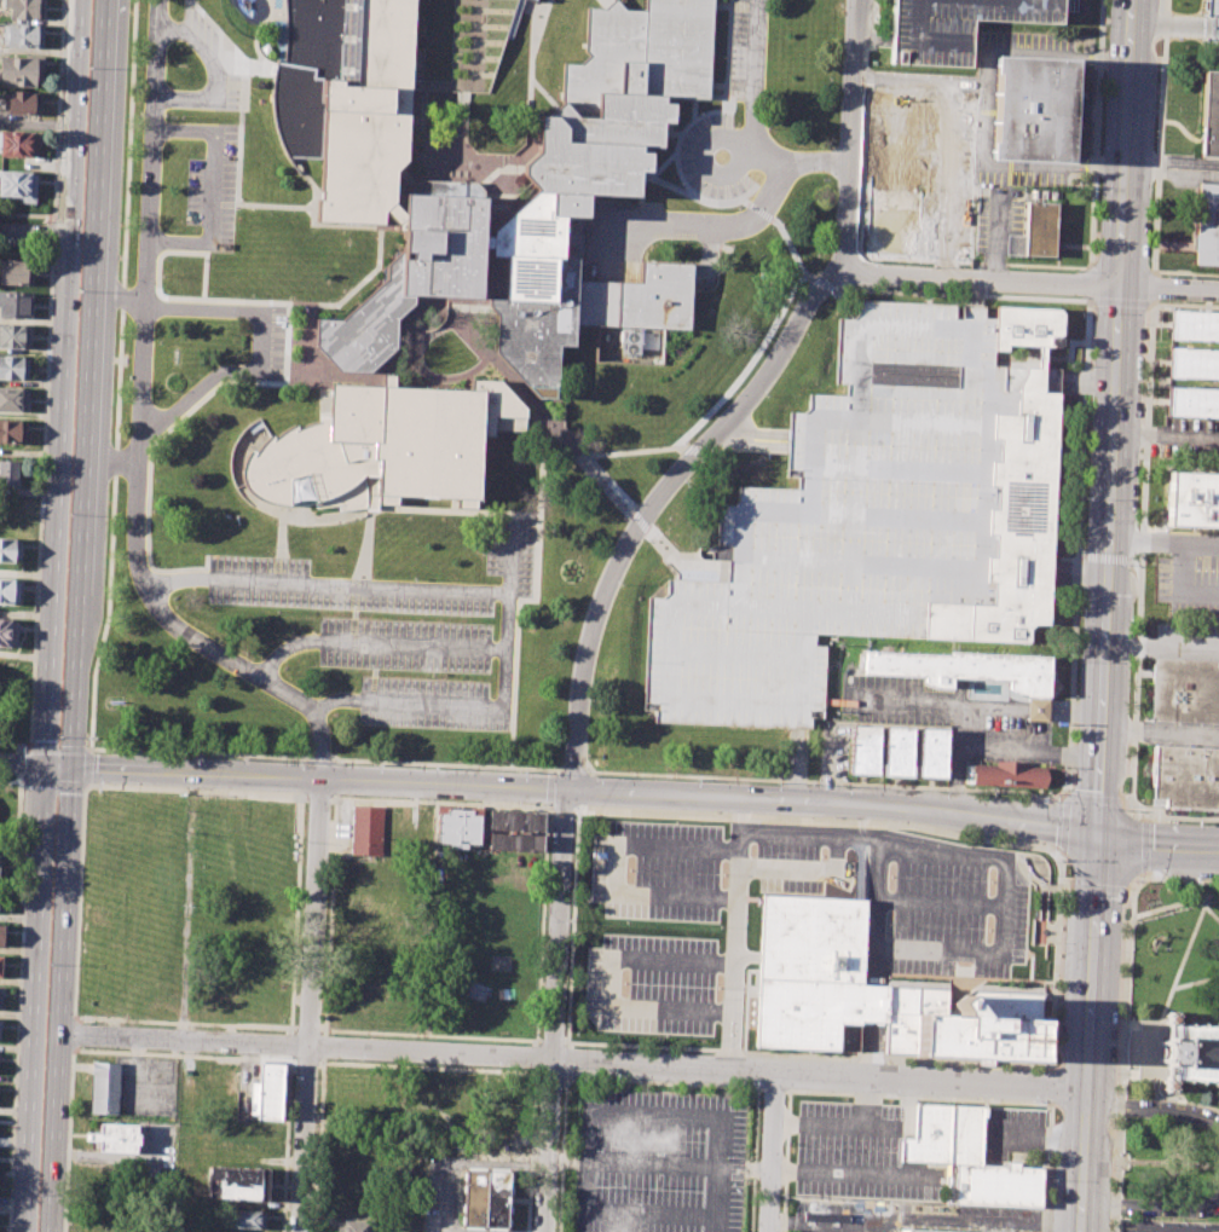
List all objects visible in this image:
street lamp: (553, 0)
road: (601, 4)
road: (531, 7)
building: (27, 8)
building: (955, 25)
parking garage: (955, 25)
building: (1213, 29)
parking garage: (1213, 29)
road: (532, 30)
building: (24, 36)
building: (473, 45)
street lamp: (537, 48)
parking lot: (746, 51)
road: (1040, 51)
building: (641, 52)
road: (530, 57)
parking lot: (210, 62)
street lamp: (87, 66)
building: (21, 71)
road: (216, 74)
road: (259, 74)
road: (718, 85)
road: (753, 93)
road: (717, 96)
building: (21, 103)
building: (346, 103)
road: (693, 108)
building: (1030, 108)
road: (57, 110)
street lamp: (862, 111)
building: (1209, 114)
street lamp: (181, 115)
road: (527, 120)
road: (688, 123)
road: (981, 131)
road: (239, 133)
road: (851, 133)
road: (1094, 133)
building: (18, 143)
building: (599, 145)
parking lot: (712, 157)
road: (1172, 160)
road: (703, 163)
road: (662, 164)
road: (1157, 168)
parking lot: (918, 173)
road: (1172, 173)
building: (919, 174)
road: (305, 179)
street lamp: (181, 184)
street lamp: (678, 184)
building: (17, 185)
road: (670, 186)
parking lot: (213, 187)
road: (216, 187)
road: (743, 201)
road: (758, 212)
road: (25, 213)
building: (1207, 224)
road: (730, 226)
building: (16, 231)
street lamp: (856, 231)
building: (1036, 232)
road: (34, 233)
road: (51, 233)
parking lot: (617, 237)
road: (859, 239)
road: (790, 249)
road: (25, 253)
road: (860, 256)
road: (707, 259)
street lamp: (873, 261)
street lamp: (976, 267)
road: (850, 271)
street lamp: (1075, 271)
building: (15, 272)
building: (411, 272)
road: (156, 273)
street lamp: (162, 273)
road: (977, 280)
road: (1088, 282)
road: (822, 284)
road: (1151, 287)
road: (844, 288)
road: (1169, 288)
street lamp: (77, 290)
street lamp: (210, 294)
road: (959, 294)
building: (574, 295)
street lamp: (252, 296)
street lamp: (831, 296)
street lamp: (291, 297)
road: (117, 299)
road: (1087, 299)
road: (1119, 302)
road: (295, 303)
building: (15, 305)
road: (1184, 305)
flagpole: (302, 310)
road: (229, 311)
street lamp: (290, 319)
road: (416, 322)
building: (1194, 325)
road: (462, 330)
building: (13, 336)
road: (422, 337)
street lamp: (158, 341)
parking lot: (266, 341)
street lamp: (289, 346)
road: (307, 346)
road: (417, 358)
building: (1192, 363)
street lamp: (288, 364)
building: (13, 368)
road: (117, 375)
road: (302, 378)
building: (1051, 380)
street lamp: (288, 382)
road: (62, 383)
road: (86, 383)
street lamp: (302, 383)
street lamp: (317, 383)
street lamp: (156, 389)
street lamp: (265, 389)
road: (192, 393)
street lamp: (767, 395)
building: (13, 399)
building: (1192, 401)
road: (538, 413)
road: (148, 415)
road: (1113, 417)
road: (166, 429)
building: (12, 432)
road: (140, 433)
building: (422, 433)
road: (751, 435)
parking lot: (1191, 435)
road: (1165, 439)
road: (698, 449)
road: (749, 449)
road: (630, 451)
street lamp: (154, 459)
road: (111, 462)
building: (296, 464)
road: (539, 465)
street lamp: (573, 465)
street lamp: (536, 467)
building: (7, 473)
street lamp: (686, 484)
street lamp: (596, 491)
road: (295, 493)
road: (39, 499)
building: (1016, 499)
building: (1192, 499)
road: (654, 504)
street lamp: (535, 507)
street lamp: (151, 509)
street lamp: (68, 514)
street lamp: (619, 516)
street lamp: (275, 524)
building: (844, 524)
parking garage: (844, 524)
street lamp: (374, 527)
road: (1163, 538)
street lamp: (272, 545)
road: (1078, 548)
building: (8, 550)
street lamp: (372, 550)
road: (510, 553)
road: (1142, 554)
road: (1081, 556)
road: (1105, 556)
road: (1134, 559)
parking lot: (1186, 568)
street lamp: (371, 573)
road: (357, 574)
street lamp: (414, 577)
road: (1184, 582)
street lamp: (620, 585)
building: (10, 590)
road: (480, 590)
street lamp: (175, 607)
street lamp: (277, 612)
parking lot: (405, 630)
building: (7, 632)
building: (1039, 637)
parking lot: (1185, 640)
road: (374, 642)
road: (1160, 647)
street lamp: (245, 654)
building: (975, 672)
street lamp: (432, 675)
road: (514, 677)
building: (1184, 689)
street lamp: (591, 700)
road: (986, 708)
parking lot: (1183, 734)
road: (1157, 735)
street lamp: (58, 738)
street lamp: (96, 738)
road: (15, 744)
street lamp: (22, 747)
road: (57, 747)
road: (88, 748)
building: (863, 748)
building: (896, 751)
road: (999, 751)
building: (931, 752)
street lamp: (197, 756)
street lamp: (301, 760)
road: (337, 760)
road: (22, 763)
street lamp: (379, 764)
road: (22, 765)
traffic signals: (45, 767)
road: (57, 767)
traffic signals: (70, 768)
road: (550, 770)
street lamp: (524, 771)
street lamp: (595, 774)
building: (1009, 774)
building: (1186, 776)
road: (318, 777)
road: (336, 777)
road: (19, 779)
street lamp: (698, 779)
road: (790, 779)
road: (10, 781)
road: (53, 782)
street lamp: (778, 782)
street lamp: (847, 786)
road: (549, 787)
street lamp: (17, 788)
street lamp: (98, 789)
road: (195, 791)
street lamp: (944, 791)
road: (317, 797)
street lamp: (1051, 800)
road: (1091, 800)
road: (439, 802)
road: (830, 803)
street lamp: (1127, 805)
road: (561, 806)
road: (1166, 816)
road: (1145, 817)
road: (819, 819)
building: (515, 821)
street lamp: (675, 821)
street lamp: (1198, 821)
street lamp: (573, 822)
road: (1064, 825)
building: (457, 826)
building: (365, 829)
traffic signals: (1092, 835)
building: (514, 841)
street lamp: (305, 844)
road: (915, 844)
road: (1144, 844)
road: (1154, 850)
street lamp: (821, 854)
flagpole: (1019, 861)
building: (1, 864)
parking lot: (706, 866)
road: (617, 867)
street lamp: (630, 869)
street lamp: (722, 873)
flagpole: (1027, 873)
street lamp: (890, 875)
road: (1180, 879)
street lamp: (1195, 879)
street lamp: (992, 880)
street lamp: (1134, 880)
flagpole: (1039, 883)
road: (1065, 884)
road: (1097, 887)
road: (1128, 891)
road: (1134, 891)
building: (1, 896)
road: (186, 906)
parking lot: (941, 907)
road: (329, 913)
road: (1211, 913)
road: (1120, 919)
street lamp: (625, 921)
road: (541, 922)
street lamp: (571, 922)
street lamp: (888, 924)
building: (376, 925)
street lamp: (720, 926)
street lamp: (988, 929)
building: (1, 933)
flagpole: (1162, 947)
street lamp: (324, 959)
road: (1056, 961)
street lamp: (48, 964)
building: (0, 965)
road: (606, 979)
road: (1196, 981)
street lamp: (623, 982)
parking lot: (651, 983)
road: (1172, 987)
street lamp: (718, 988)
building: (0, 993)
building: (871, 993)
road: (34, 999)
road: (60, 999)
street lamp: (567, 1000)
road: (17, 1003)
road: (308, 1005)
road: (554, 1010)
road: (74, 1012)
road: (1140, 1020)
road: (1125, 1024)
road: (1134, 1025)
road: (306, 1028)
road: (1121, 1028)
road: (429, 1034)
street lamp: (665, 1034)
road: (1084, 1034)
road: (550, 1040)
road: (323, 1046)
street lamp: (81, 1047)
road: (1134, 1048)
road: (92, 1049)
road: (1149, 1051)
building: (1190, 1052)
street lamp: (223, 1053)
road: (535, 1054)
road: (805, 1054)
road: (306, 1059)
road: (571, 1059)
street lamp: (360, 1060)
road: (1163, 1062)
road: (428, 1066)
street lamp: (497, 1066)
road: (1138, 1066)
road: (1122, 1074)
road: (1132, 1074)
road: (551, 1075)
street lamp: (616, 1078)
street lamp: (294, 1080)
road: (662, 1082)
street lamp: (753, 1086)
road: (1050, 1086)
building: (104, 1087)
road: (773, 1087)
road: (1155, 1088)
street lamp: (561, 1089)
building: (267, 1091)
building: (336, 1093)
street lamp: (894, 1093)
road: (917, 1095)
road: (865, 1099)
street lamp: (1033, 1099)
road: (1188, 1100)
road: (1151, 1109)
road: (651, 1114)
road: (833, 1123)
building: (966, 1134)
building: (929, 1135)
parking lot: (1013, 1136)
building: (116, 1138)
road: (318, 1144)
road: (530, 1149)
building: (495, 1150)
road: (772, 1151)
road: (561, 1155)
parking lot: (860, 1155)
road: (1163, 1158)
road: (753, 1159)
parking lot: (660, 1161)
road: (1121, 1161)
road: (1148, 1162)
road: (1201, 1163)
road: (453, 1164)
road: (659, 1164)
road: (1046, 1167)
road: (854, 1175)
building: (237, 1184)
building: (994, 1185)
street lamp: (37, 1195)
parking lot: (443, 1195)
building: (485, 1199)
road: (1149, 1207)
road: (651, 1214)
parking lot: (845, 1216)
building: (249, 1220)
road: (970, 1221)
road: (821, 1222)
building: (353, 1226)
parking lot: (1165, 1226)
road: (1174, 1227)
building: (915, 1231)

